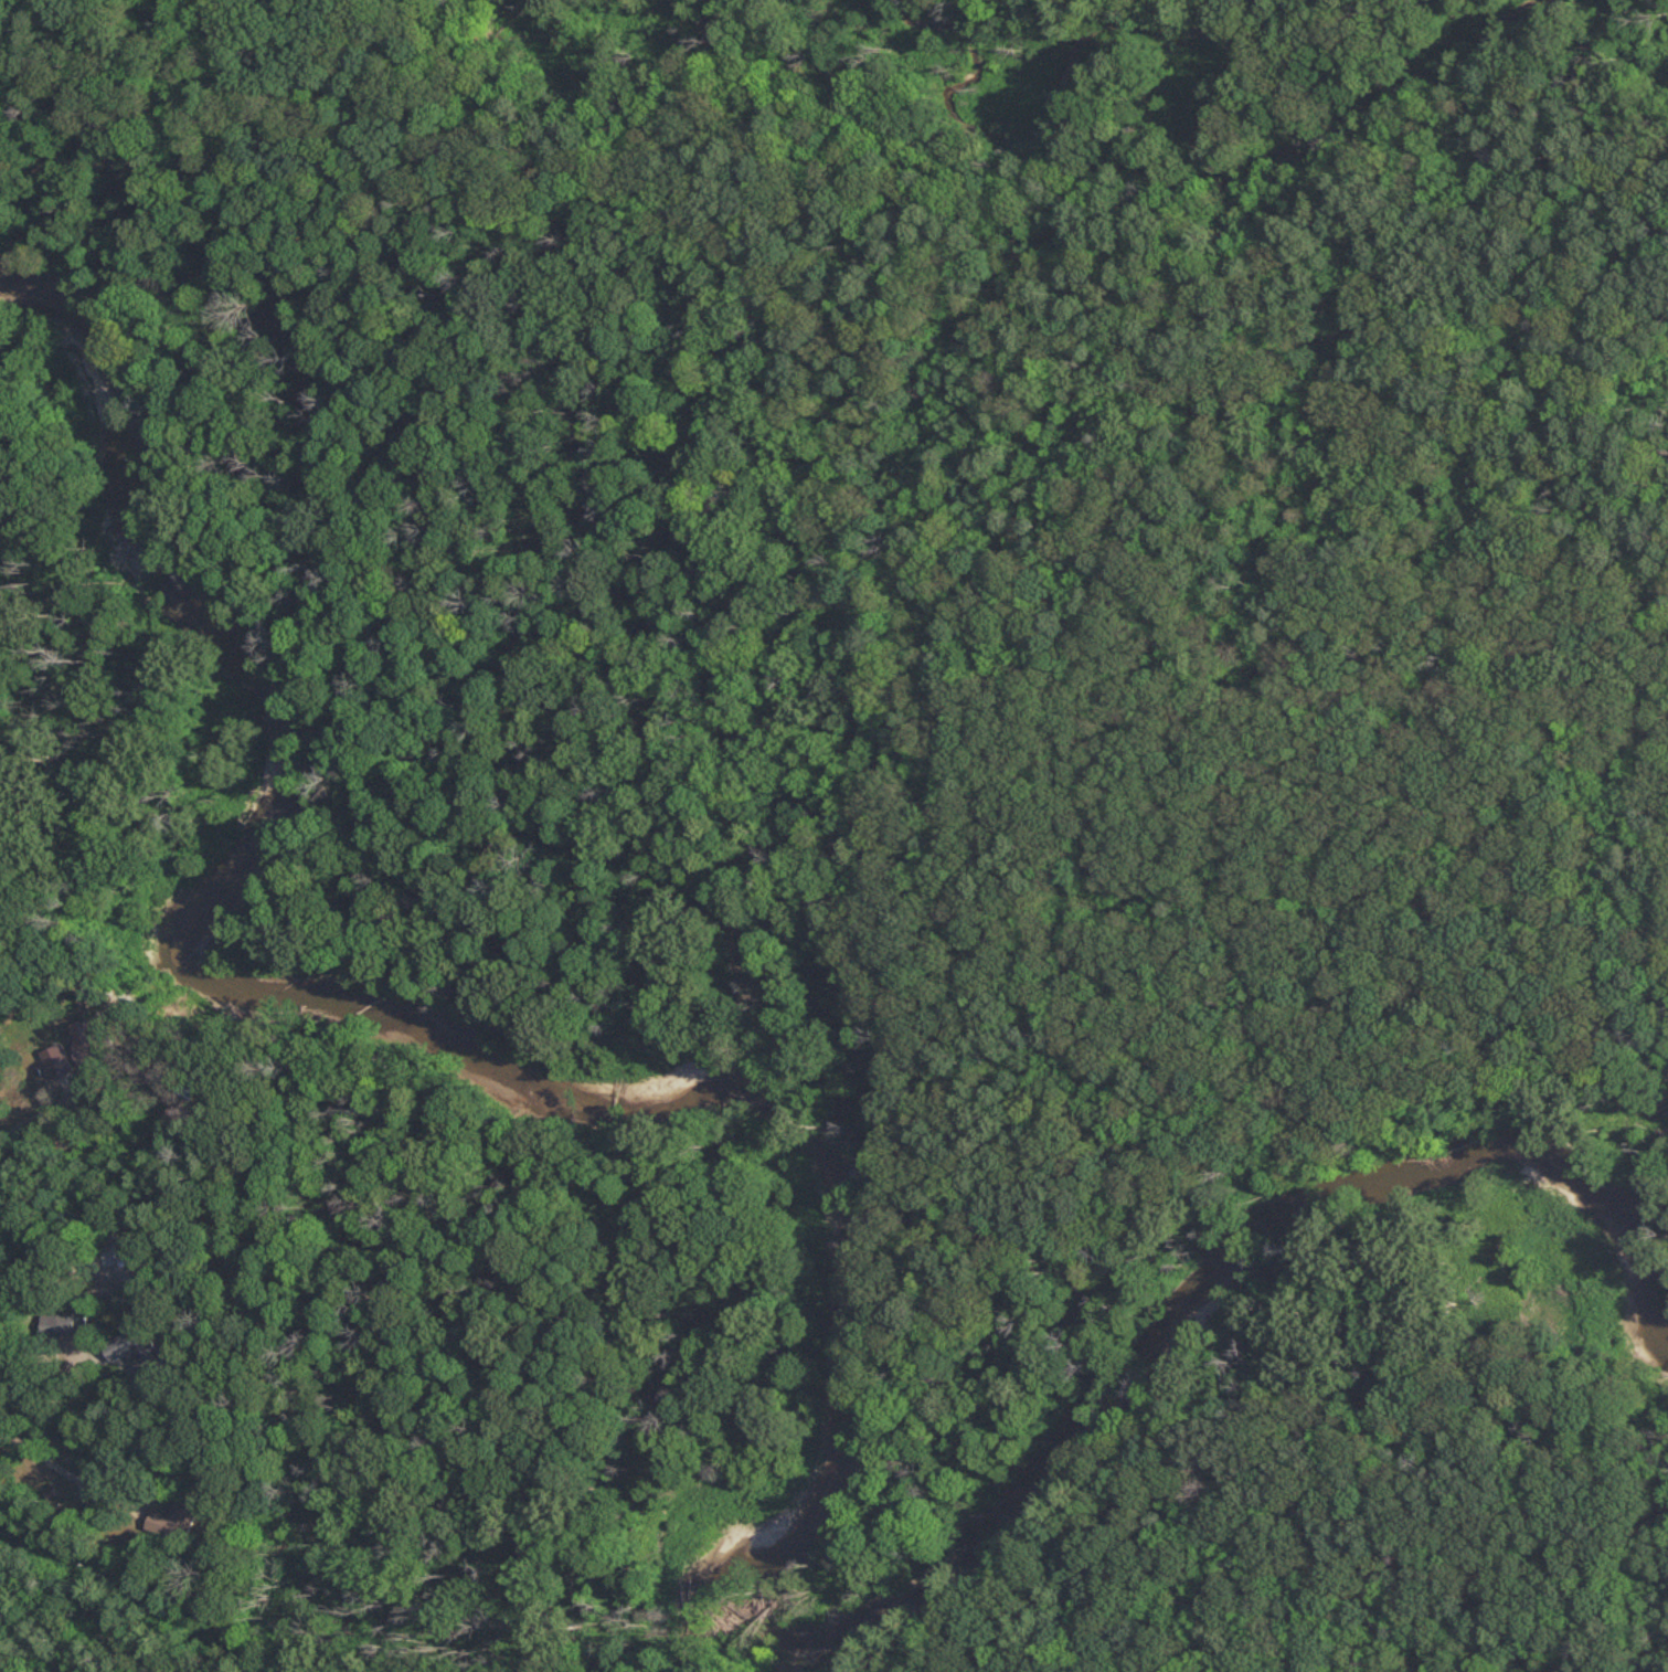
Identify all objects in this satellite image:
road: (468, 71)
road: (82, 82)
road: (931, 162)
road: (361, 172)
road: (1377, 183)
road: (1257, 289)
road: (1605, 424)
road: (955, 754)
building: (73, 1051)
road: (34, 1122)
river: (858, 1263)
building: (51, 1326)
building: (131, 1350)
road: (63, 1468)
building: (170, 1520)
road: (439, 1542)
road: (523, 1588)

